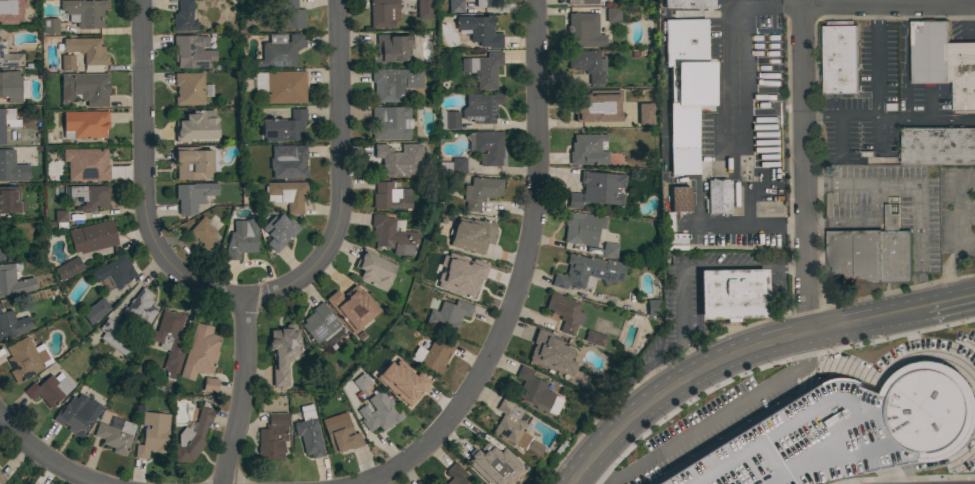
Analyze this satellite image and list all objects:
road: (887, 1)
building: (581, 2)
building: (487, 3)
building: (688, 4)
road: (766, 4)
building: (455, 6)
building: (425, 9)
building: (11, 12)
building: (83, 12)
building: (383, 13)
building: (288, 15)
building: (612, 15)
building: (678, 15)
building: (183, 17)
building: (50, 26)
building: (479, 30)
building: (583, 30)
building: (707, 37)
building: (678, 41)
building: (391, 49)
building: (86, 50)
building: (279, 51)
building: (192, 52)
building: (938, 54)
building: (9, 57)
building: (839, 57)
road: (877, 58)
road: (907, 60)
building: (67, 62)
building: (587, 65)
building: (482, 69)
building: (705, 75)
building: (821, 77)
building: (392, 83)
building: (10, 86)
building: (285, 87)
building: (85, 88)
building: (188, 88)
building: (964, 93)
building: (590, 106)
building: (480, 107)
building: (648, 114)
road: (803, 114)
road: (889, 117)
building: (448, 120)
building: (7, 121)
building: (389, 123)
building: (84, 124)
building: (196, 126)
building: (283, 128)
road: (734, 128)
building: (52, 139)
building: (677, 139)
building: (937, 145)
building: (486, 147)
building: (587, 150)
building: (398, 159)
building: (287, 161)
building: (192, 163)
building: (454, 165)
building: (88, 166)
building: (11, 167)
road: (142, 176)
road: (341, 176)
building: (597, 190)
building: (480, 192)
building: (286, 194)
building: (90, 196)
building: (193, 196)
building: (390, 196)
building: (718, 197)
building: (9, 200)
building: (58, 220)
building: (667, 221)
building: (582, 228)
road: (760, 229)
building: (278, 231)
building: (393, 234)
building: (203, 235)
building: (471, 235)
building: (92, 237)
building: (242, 240)
building: (1, 242)
building: (609, 250)
building: (869, 254)
building: (68, 268)
building: (374, 269)
building: (114, 272)
building: (468, 272)
building: (587, 272)
road: (523, 276)
building: (13, 280)
building: (430, 280)
road: (807, 280)
building: (732, 294)
road: (963, 296)
building: (653, 307)
building: (352, 308)
building: (95, 311)
building: (564, 312)
building: (448, 315)
building: (127, 322)
building: (320, 323)
building: (12, 324)
building: (594, 338)
building: (169, 342)
building: (283, 351)
building: (199, 352)
road: (739, 352)
building: (550, 353)
building: (433, 355)
building: (23, 359)
building: (361, 381)
building: (209, 385)
building: (407, 387)
building: (49, 389)
road: (240, 390)
building: (535, 392)
building: (379, 412)
building: (77, 414)
building: (515, 427)
building: (843, 432)
building: (308, 433)
building: (340, 433)
building: (152, 434)
building: (192, 435)
building: (115, 436)
building: (272, 437)
building: (561, 448)
road: (43, 457)
building: (493, 464)
building: (455, 475)
building: (1, 478)

